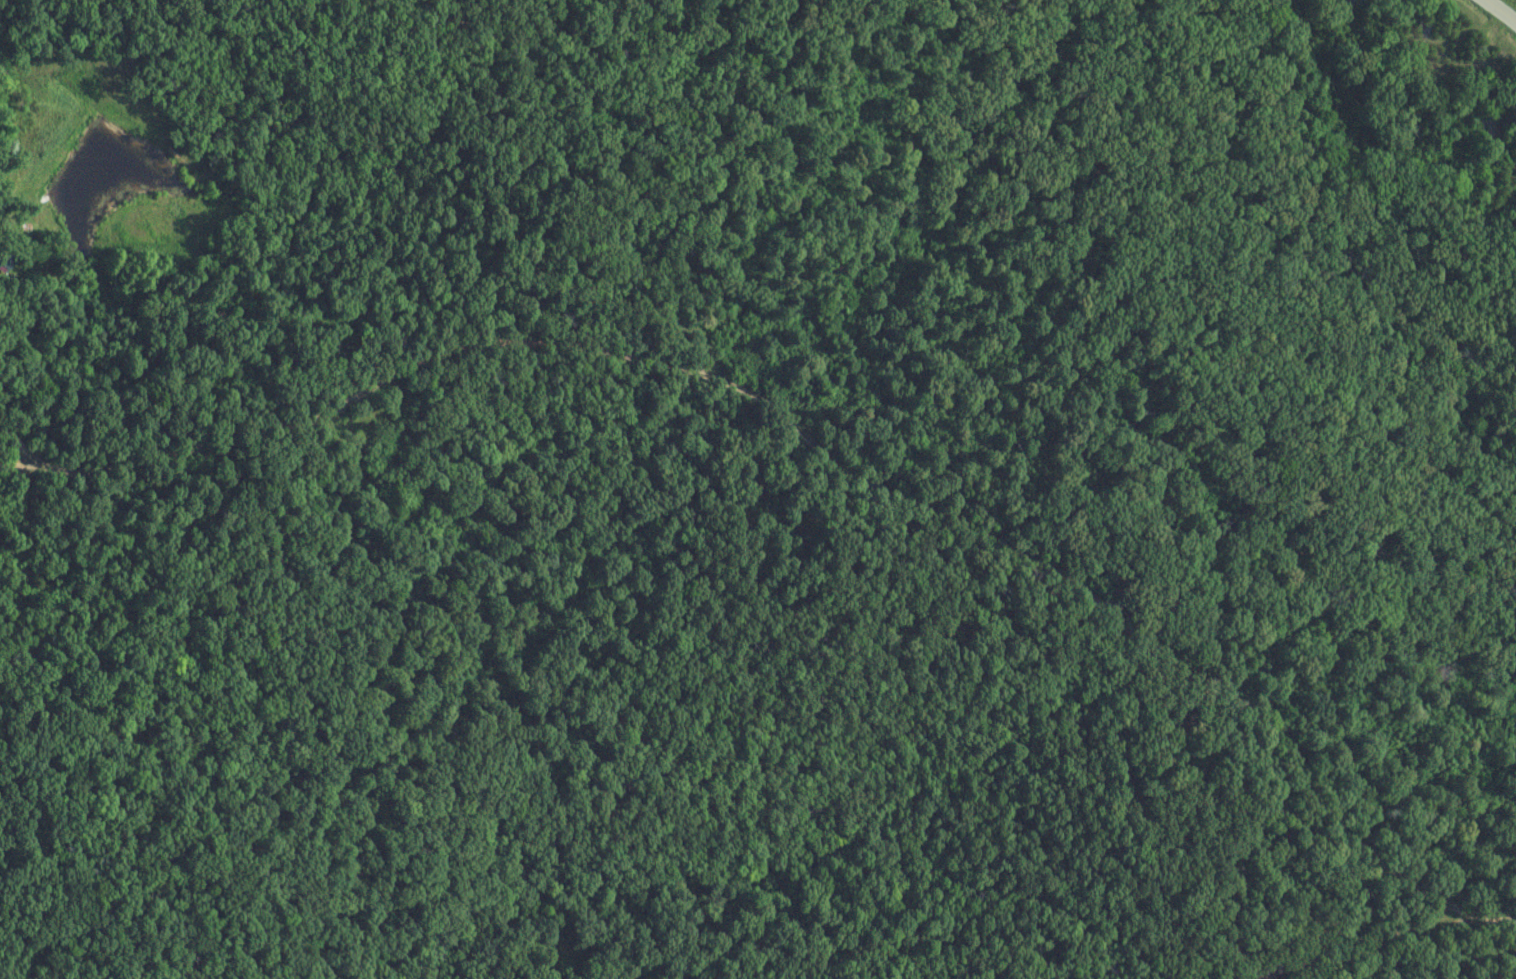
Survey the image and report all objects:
road: (1499, 12)
road: (818, 452)
road: (1357, 945)

